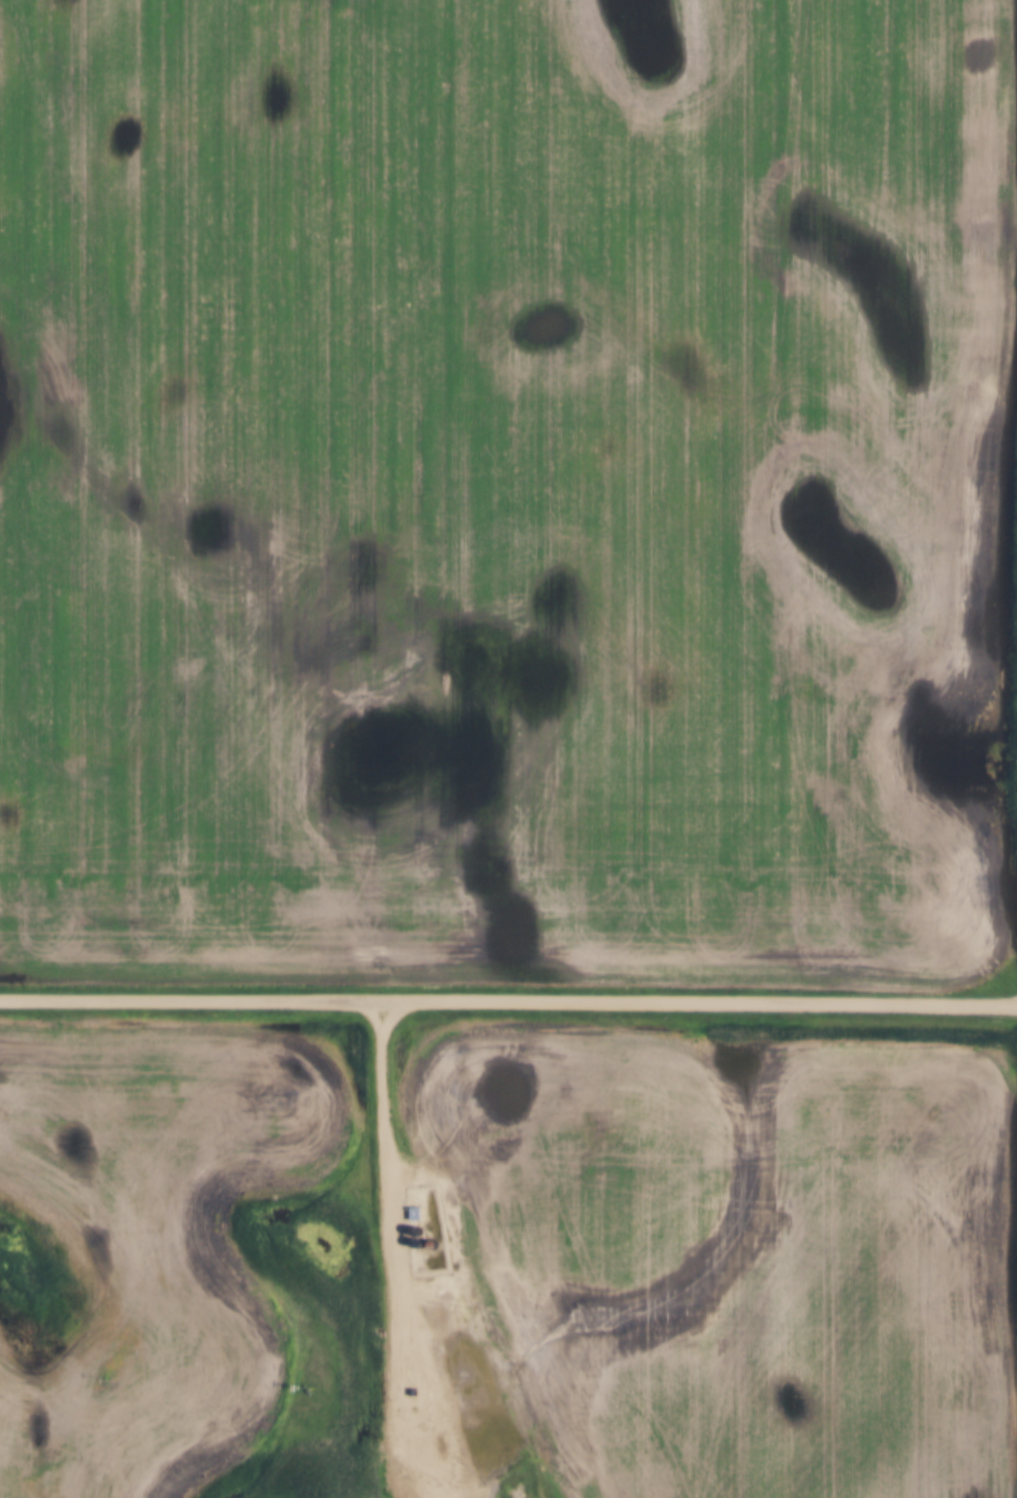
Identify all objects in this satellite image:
road: (508, 995)
building: (412, 1214)
road: (391, 1228)

